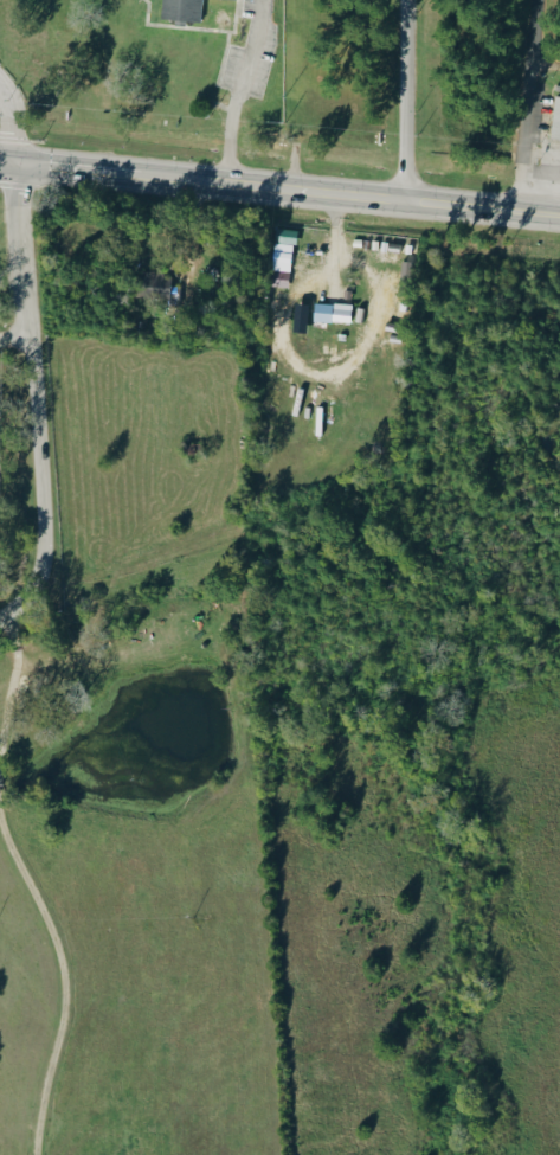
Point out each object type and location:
building: (176, 9)
road: (238, 90)
road: (411, 100)
road: (522, 105)
building: (554, 113)
road: (12, 122)
road: (7, 161)
traffic signals: (14, 162)
road: (91, 169)
road: (288, 188)
road: (459, 205)
road: (536, 212)
building: (285, 236)
road: (334, 237)
building: (283, 265)
building: (154, 283)
building: (329, 313)
building: (297, 316)
road: (14, 336)
road: (34, 398)
road: (11, 686)
road: (58, 981)

